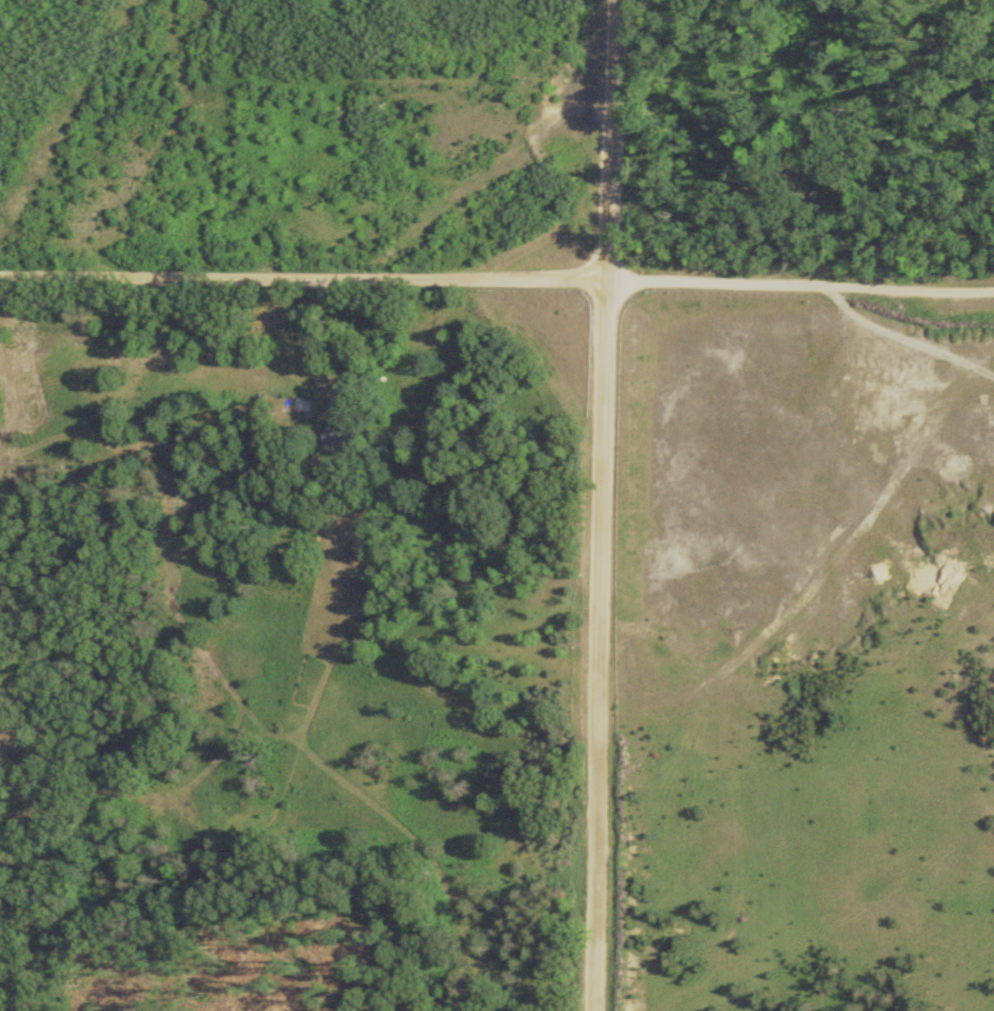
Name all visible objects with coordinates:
road: (302, 275)
road: (799, 275)
building: (332, 437)
road: (599, 505)

